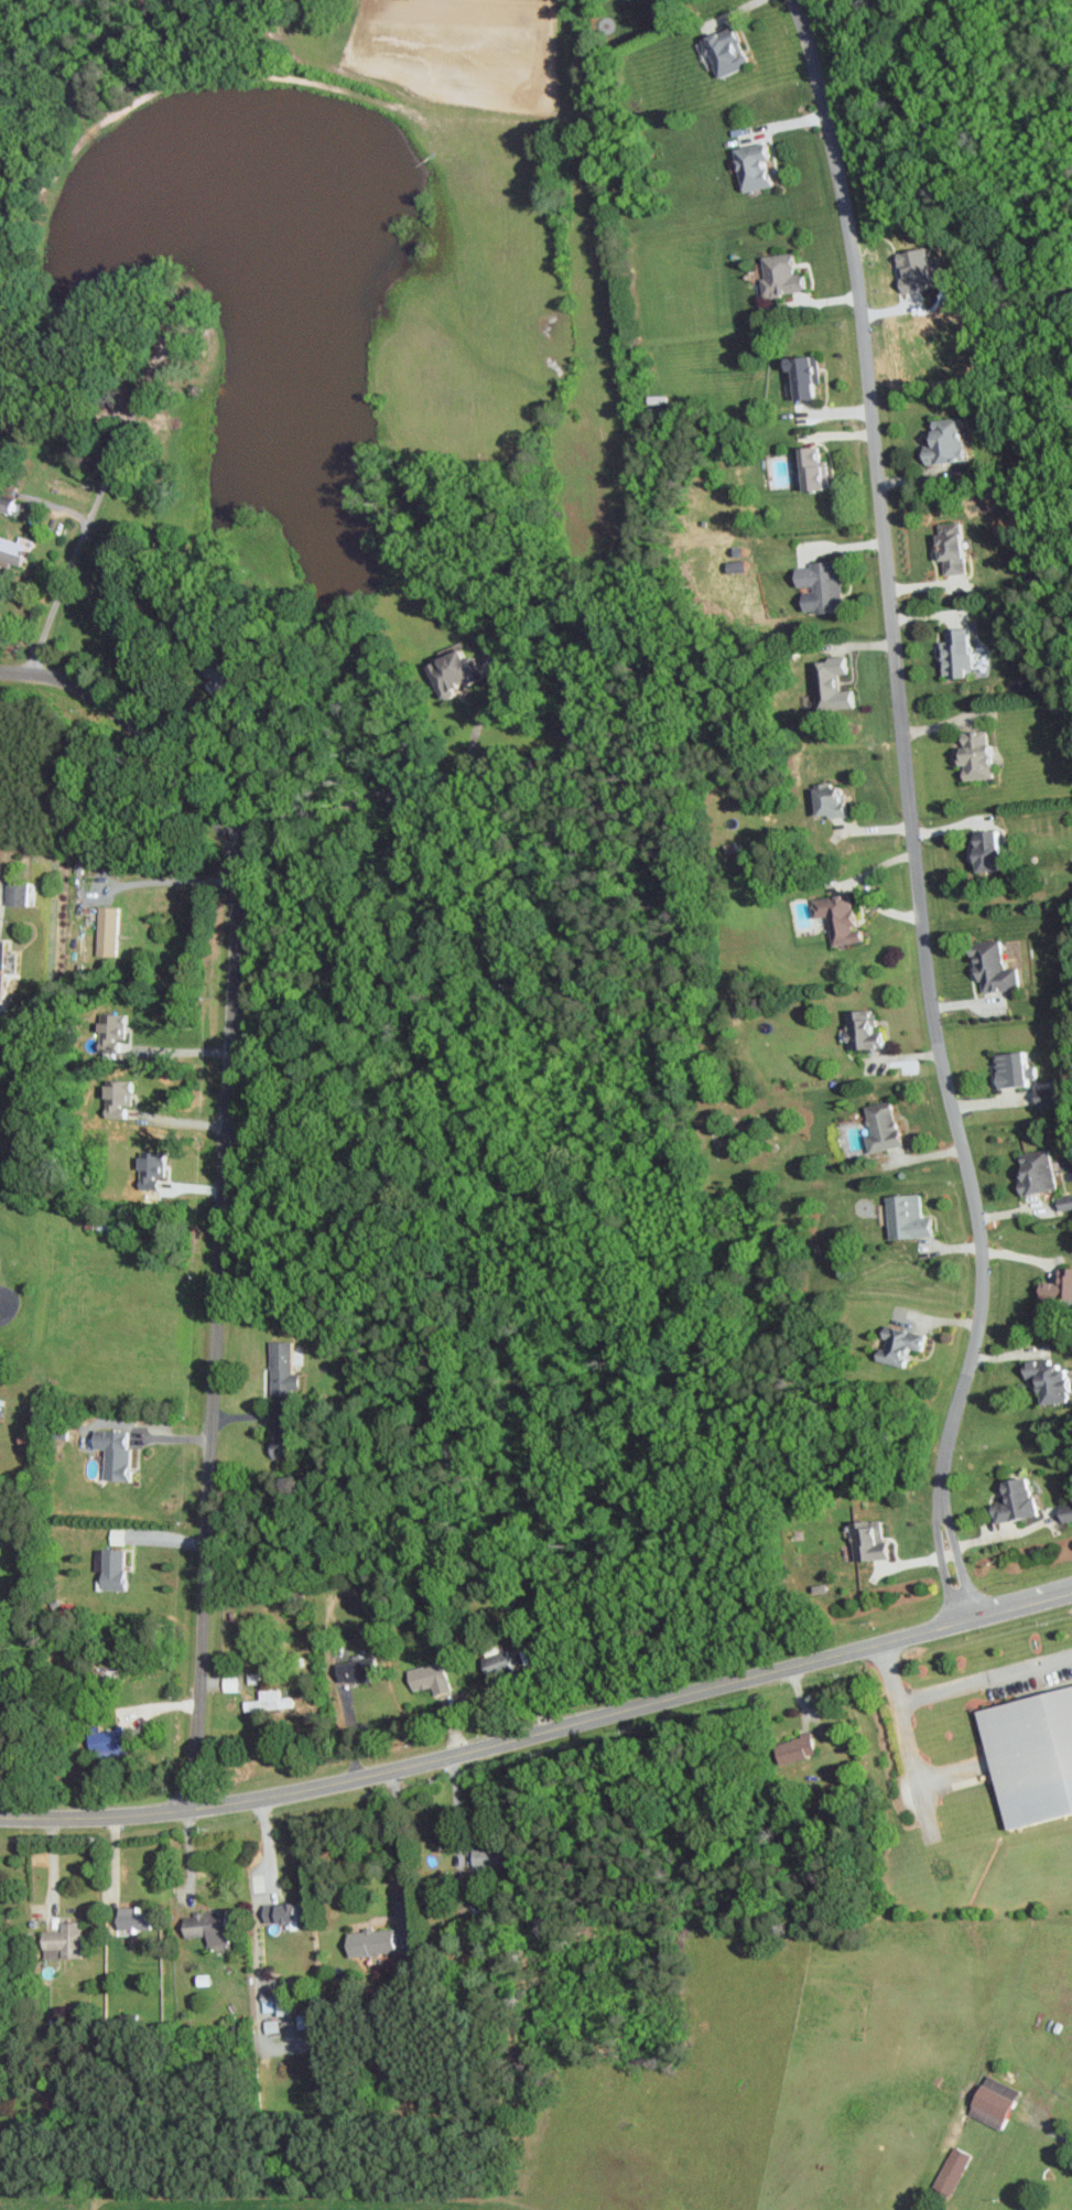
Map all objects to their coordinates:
building: (722, 52)
building: (749, 168)
building: (911, 270)
building: (777, 273)
building: (799, 374)
building: (941, 439)
building: (809, 468)
building: (9, 505)
building: (948, 548)
building: (13, 549)
road: (66, 574)
building: (816, 585)
road: (19, 632)
building: (953, 650)
building: (462, 672)
building: (829, 683)
road: (214, 727)
building: (971, 755)
road: (394, 788)
building: (823, 800)
road: (909, 811)
building: (982, 849)
road: (170, 881)
building: (20, 893)
building: (834, 917)
building: (113, 930)
building: (4, 968)
building: (989, 968)
building: (858, 1029)
road: (175, 1048)
building: (1011, 1069)
building: (122, 1101)
building: (1042, 1101)
building: (1, 1125)
building: (878, 1128)
building: (156, 1169)
building: (1032, 1172)
road: (221, 1177)
building: (903, 1217)
building: (1062, 1284)
road: (3, 1303)
building: (894, 1345)
building: (288, 1368)
building: (1044, 1380)
building: (120, 1452)
building: (1010, 1500)
building: (1063, 1517)
building: (866, 1541)
building: (118, 1568)
building: (359, 1671)
building: (436, 1678)
road: (985, 1682)
building: (232, 1683)
building: (272, 1700)
road: (540, 1732)
road: (907, 1739)
building: (116, 1743)
building: (792, 1748)
building: (1031, 1757)
road: (405, 1847)
road: (259, 1899)
building: (286, 1912)
building: (138, 1918)
building: (212, 1927)
building: (366, 1941)
building: (66, 1942)
building: (267, 2002)
building: (270, 2026)
building: (989, 2100)
road: (1047, 2125)
building: (948, 2171)

